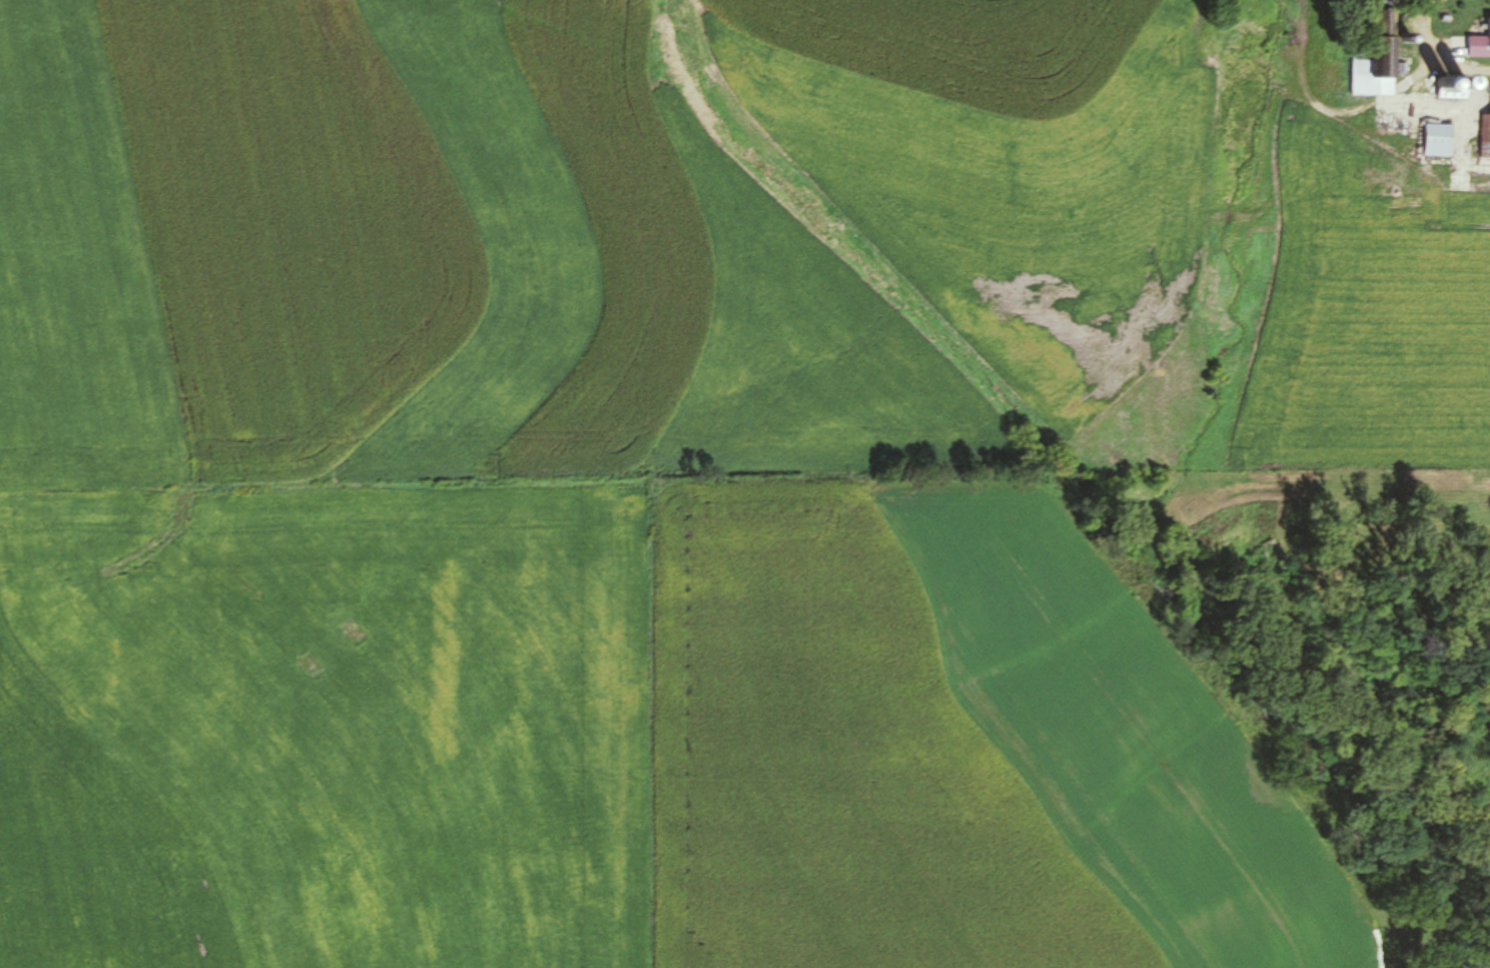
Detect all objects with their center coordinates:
building: (1382, 4)
building: (1479, 45)
building: (1370, 80)
building: (1440, 140)

